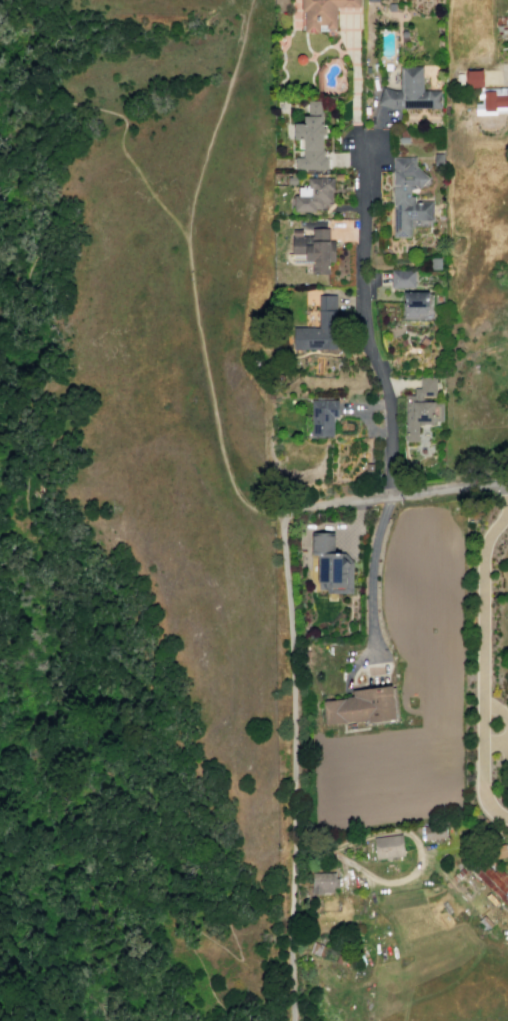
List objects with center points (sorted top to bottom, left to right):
building: (372, 0)
building: (323, 12)
building: (300, 59)
building: (474, 77)
road: (499, 77)
road: (355, 83)
building: (410, 91)
building: (492, 100)
road: (375, 115)
building: (404, 136)
building: (311, 139)
building: (438, 159)
building: (313, 194)
building: (407, 197)
road: (335, 225)
building: (314, 248)
road: (191, 274)
building: (402, 279)
building: (415, 303)
building: (319, 327)
road: (395, 383)
road: (387, 401)
building: (422, 408)
building: (323, 417)
road: (398, 495)
road: (357, 522)
road: (39, 540)
building: (332, 564)
crop: (428, 602)
road: (482, 652)
road: (356, 661)
building: (361, 706)
road: (497, 707)
road: (496, 741)
road: (506, 746)
crop: (387, 753)
road: (294, 763)
crop: (388, 803)
building: (433, 832)
building: (389, 846)
building: (497, 852)
road: (413, 874)
building: (492, 880)
building: (323, 882)

